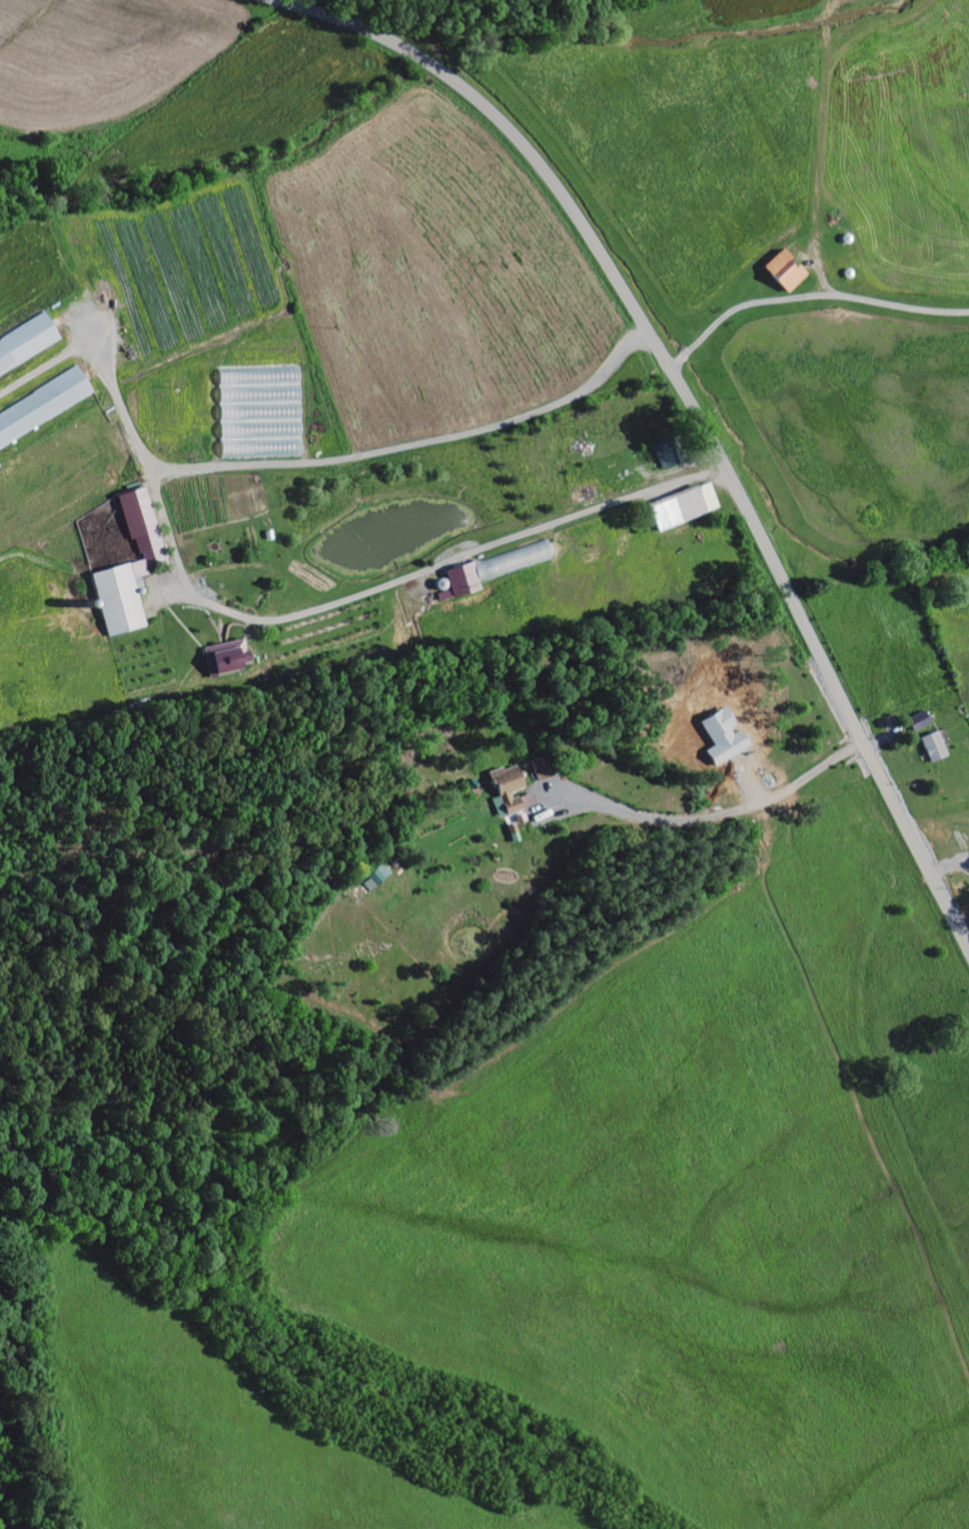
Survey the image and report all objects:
building: (786, 272)
building: (28, 348)
road: (694, 409)
building: (45, 411)
building: (667, 455)
building: (685, 507)
building: (131, 569)
building: (497, 569)
building: (228, 659)
building: (921, 722)
building: (935, 747)
building: (542, 769)
building: (508, 791)
building: (529, 801)
building: (377, 878)

